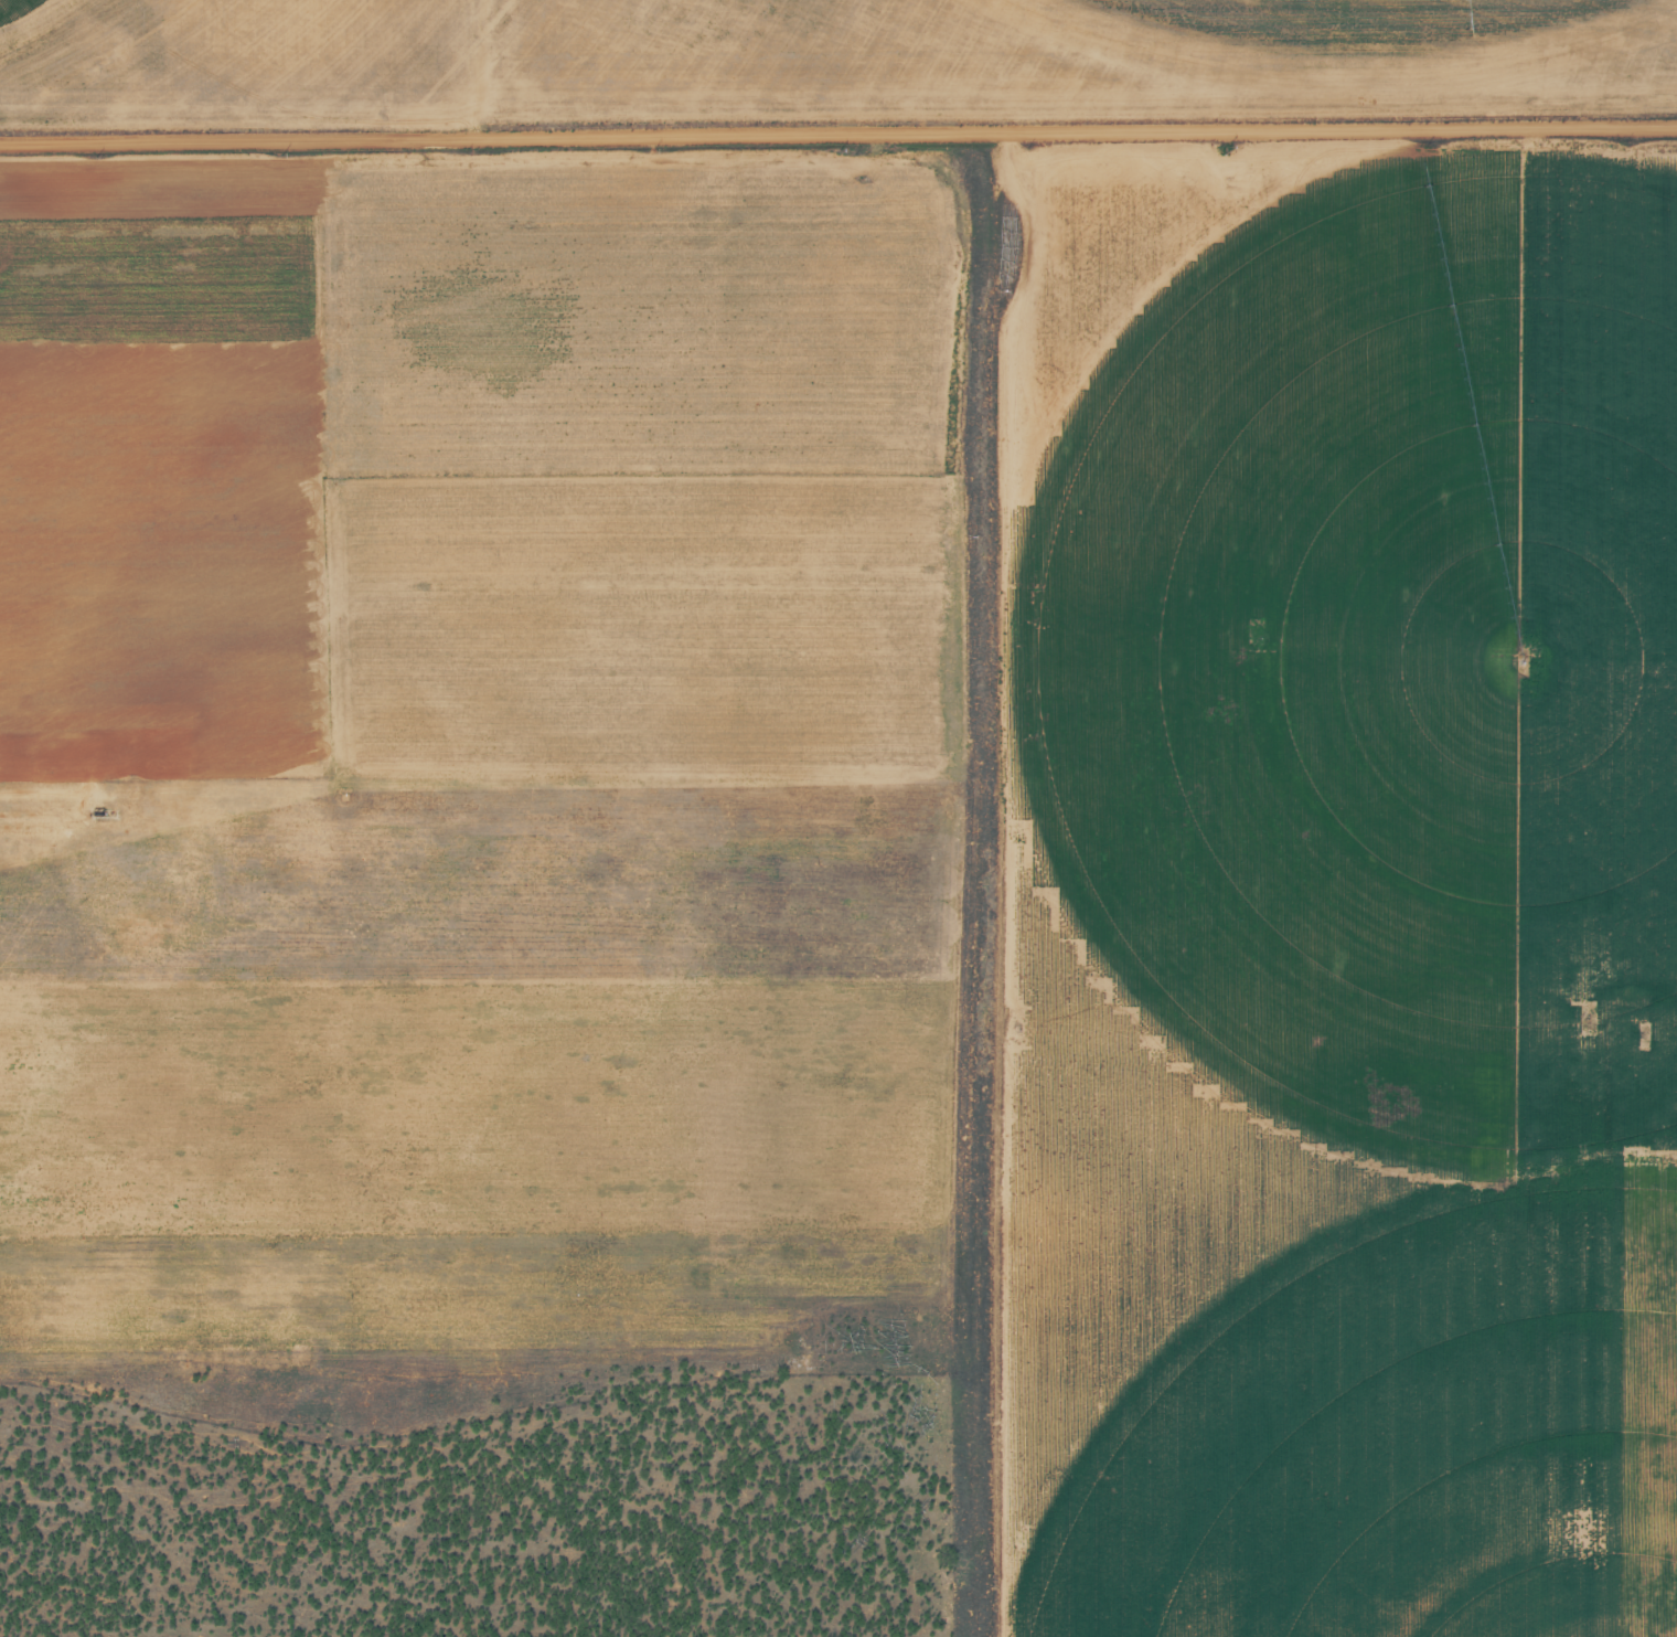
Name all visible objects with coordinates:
road: (837, 148)
road: (1664, 1022)
road: (68, 1289)

